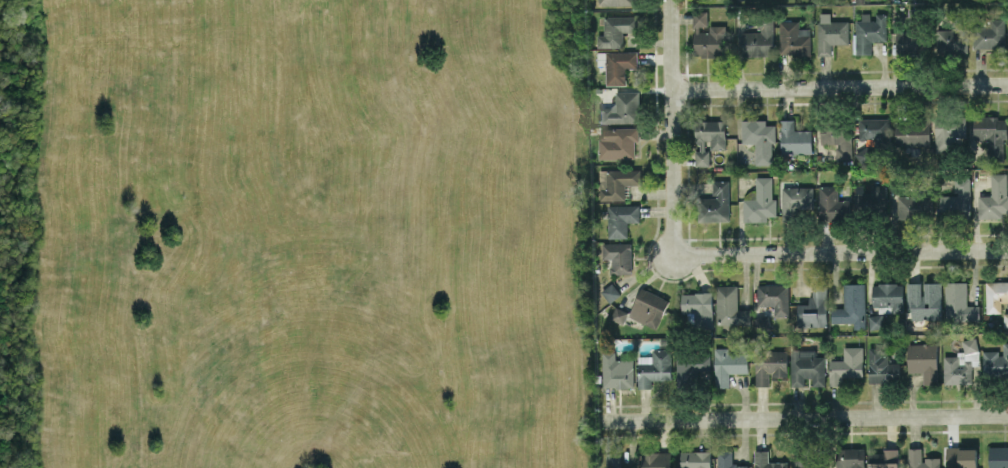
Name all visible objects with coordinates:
building: (737, 0)
building: (615, 2)
building: (616, 29)
building: (869, 31)
building: (990, 34)
building: (831, 35)
building: (707, 36)
building: (793, 38)
building: (758, 40)
building: (950, 41)
building: (908, 42)
building: (616, 65)
road: (839, 86)
building: (621, 108)
road: (671, 127)
building: (874, 129)
building: (911, 133)
building: (949, 134)
building: (990, 134)
building: (759, 138)
building: (794, 138)
building: (708, 139)
building: (617, 142)
building: (836, 143)
building: (864, 155)
building: (617, 183)
building: (995, 197)
building: (869, 198)
building: (759, 201)
building: (795, 201)
building: (715, 203)
building: (831, 204)
building: (621, 218)
road: (841, 252)
building: (618, 256)
building: (610, 291)
building: (995, 295)
building: (774, 297)
building: (888, 297)
building: (923, 300)
building: (958, 303)
building: (698, 306)
building: (729, 306)
building: (851, 306)
building: (648, 307)
building: (814, 307)
building: (618, 314)
building: (1006, 319)
building: (875, 321)
building: (762, 324)
building: (923, 360)
building: (996, 361)
building: (960, 363)
building: (728, 365)
building: (770, 365)
building: (846, 365)
building: (654, 366)
building: (881, 366)
building: (806, 367)
building: (691, 368)
building: (616, 371)
road: (807, 417)
building: (850, 457)
building: (961, 457)
building: (998, 457)
building: (883, 458)
building: (655, 459)
building: (694, 459)
building: (921, 459)
building: (727, 460)
building: (766, 460)
building: (616, 461)
building: (808, 463)

